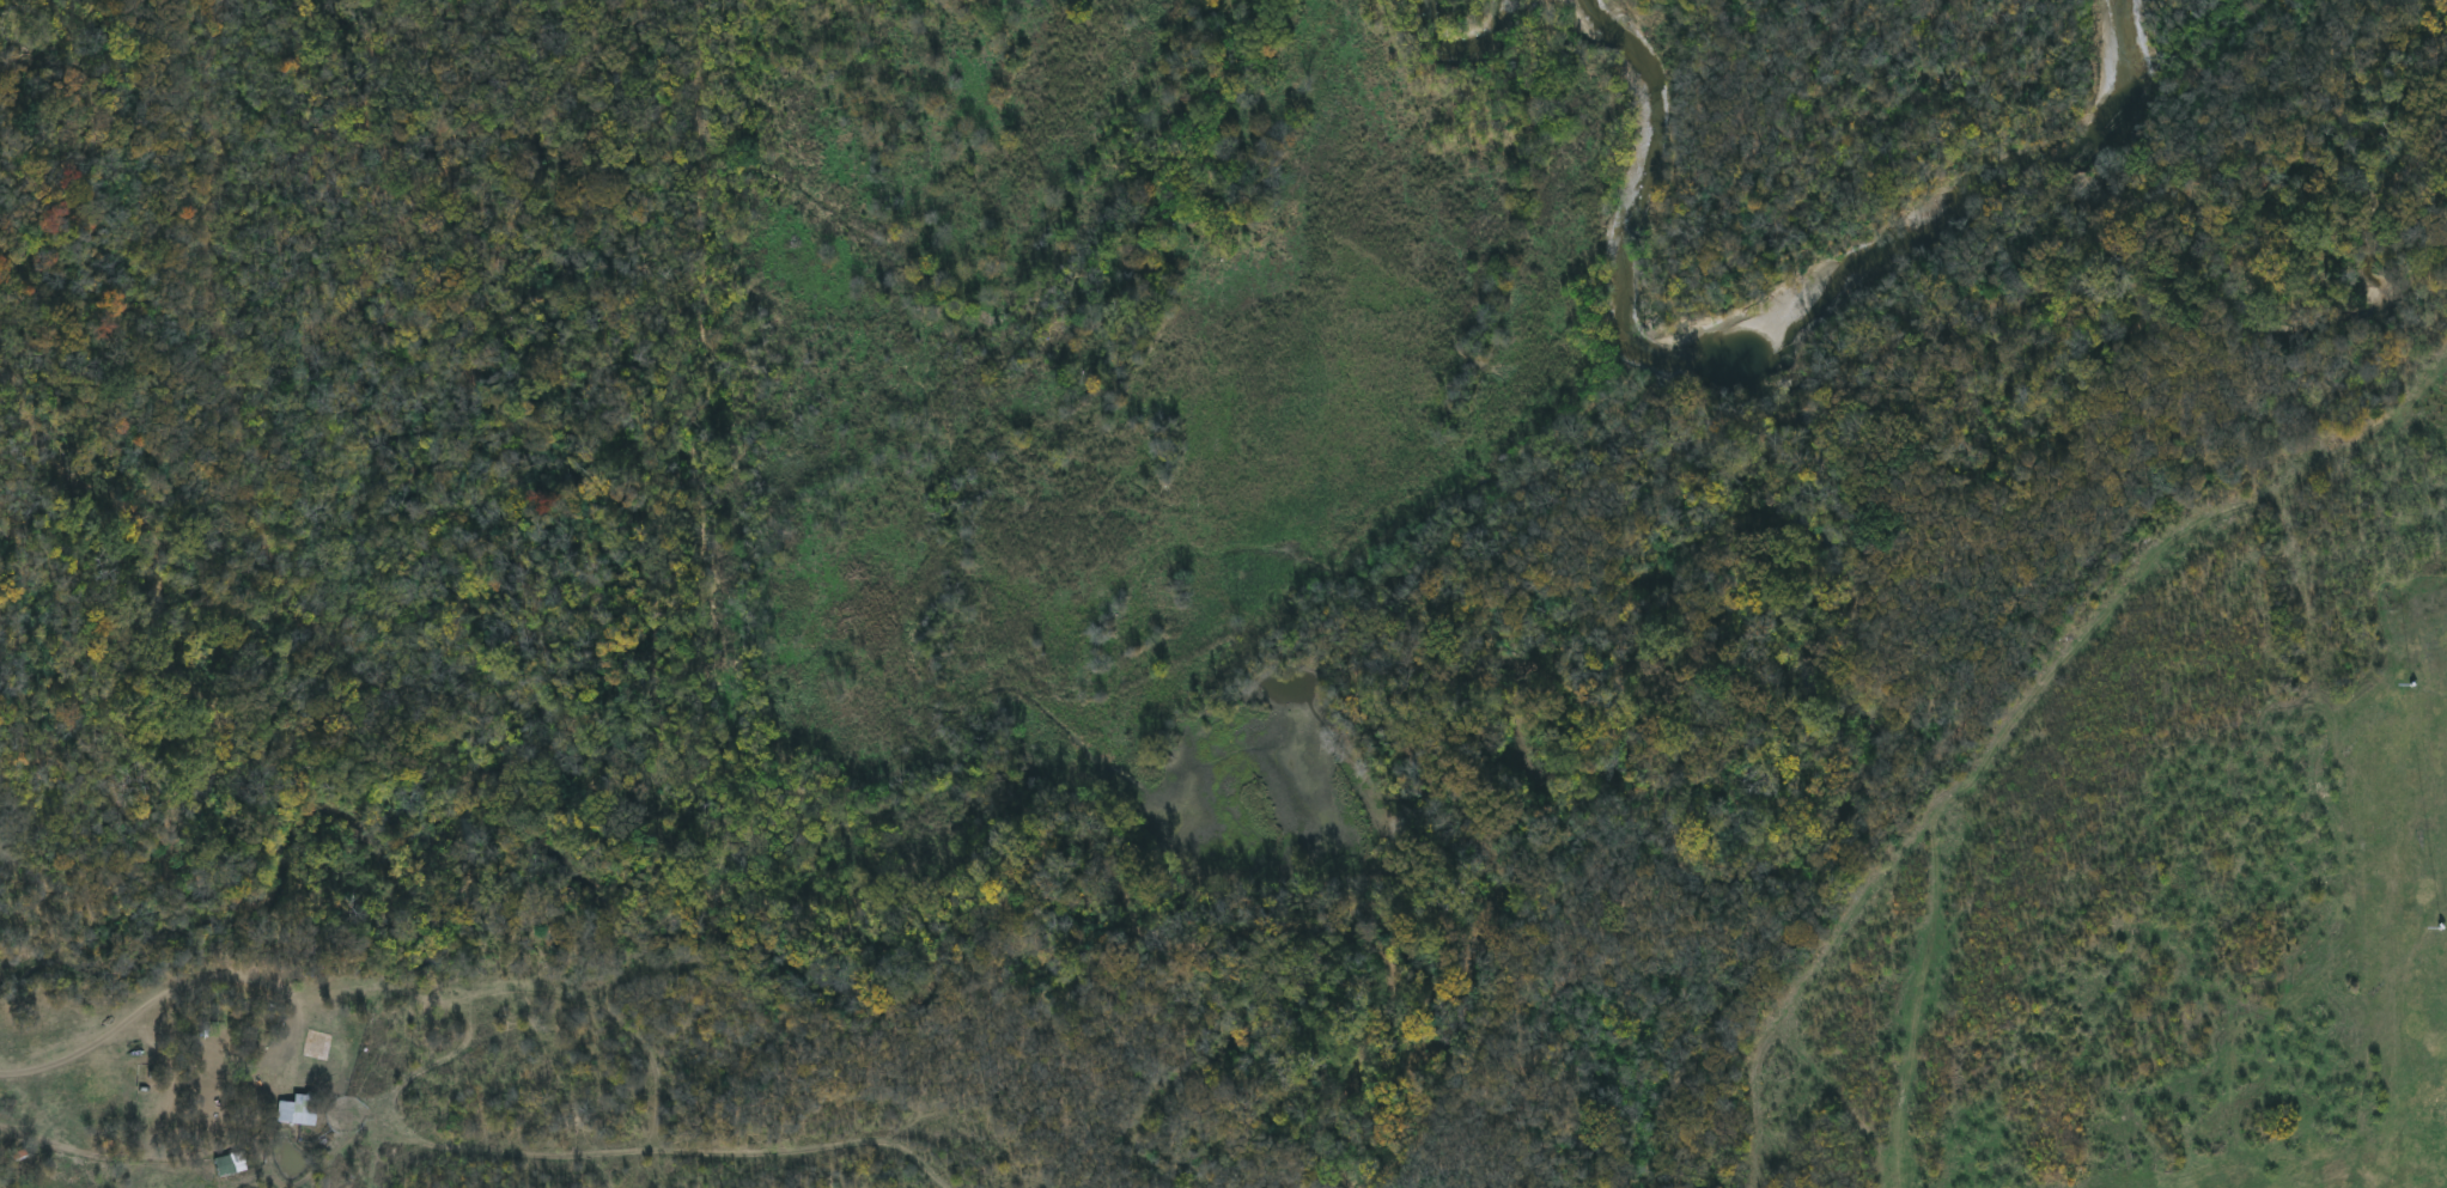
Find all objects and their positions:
road: (189, 970)
building: (299, 1113)
building: (232, 1165)

